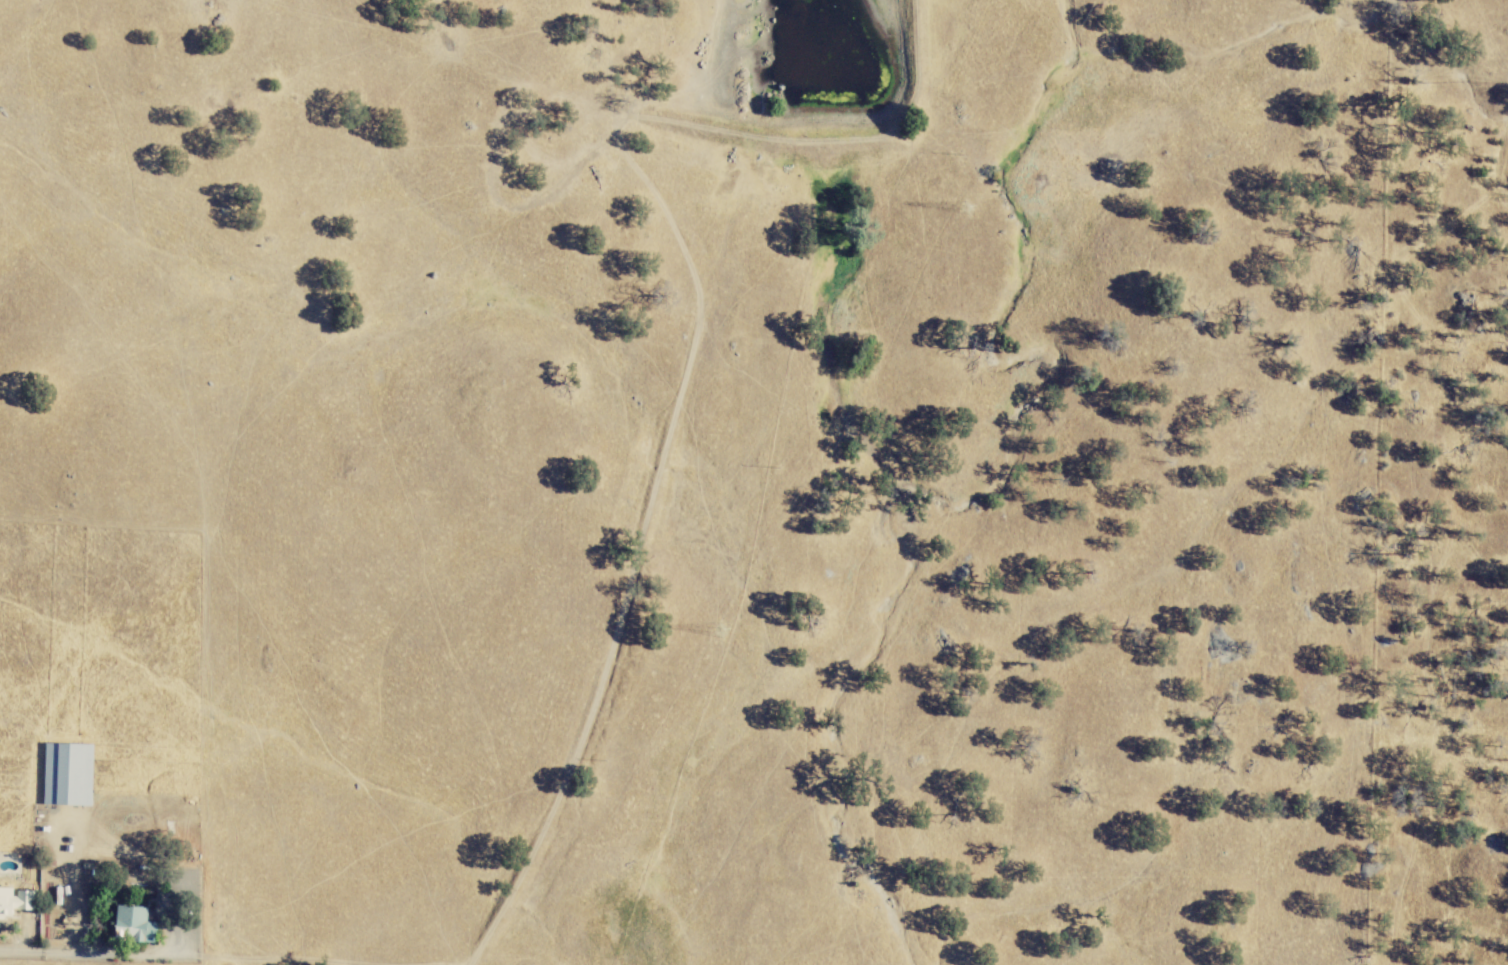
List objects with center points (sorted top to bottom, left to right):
power tower: (970, 206)
power tower: (726, 626)
building: (17, 902)
building: (139, 925)
road: (119, 953)

